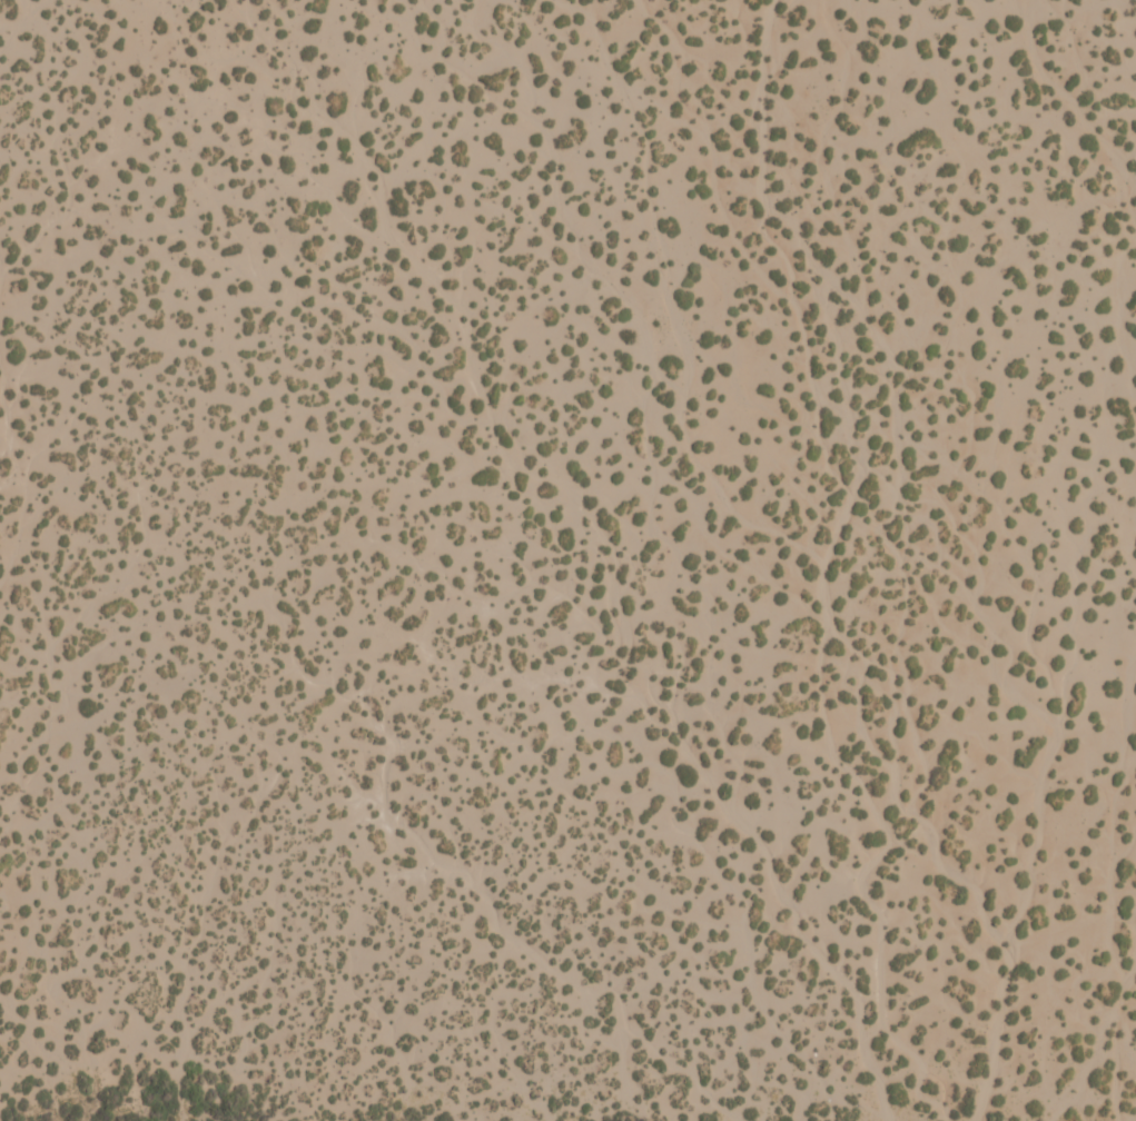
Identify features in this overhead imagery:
road: (75, 710)
road: (404, 893)

